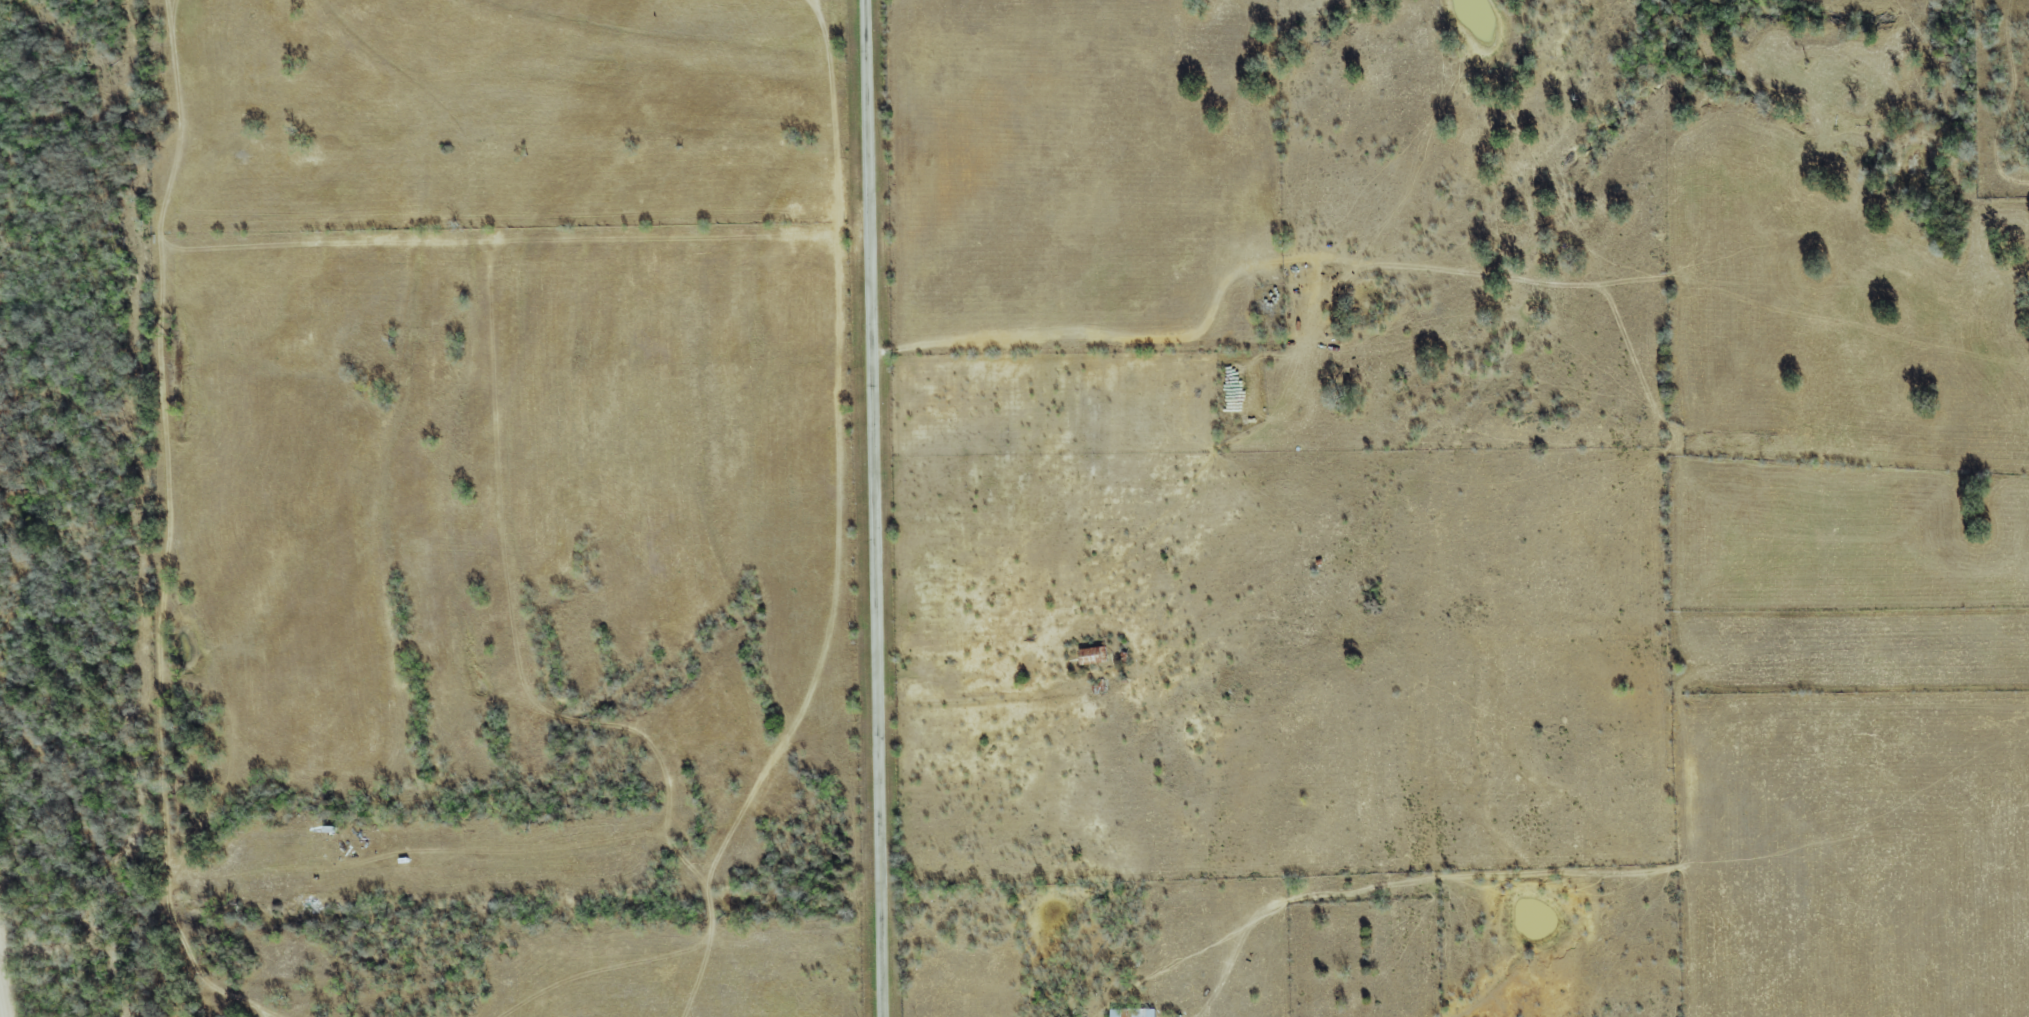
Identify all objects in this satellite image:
road: (874, 508)
building: (1096, 654)
building: (1135, 1012)

